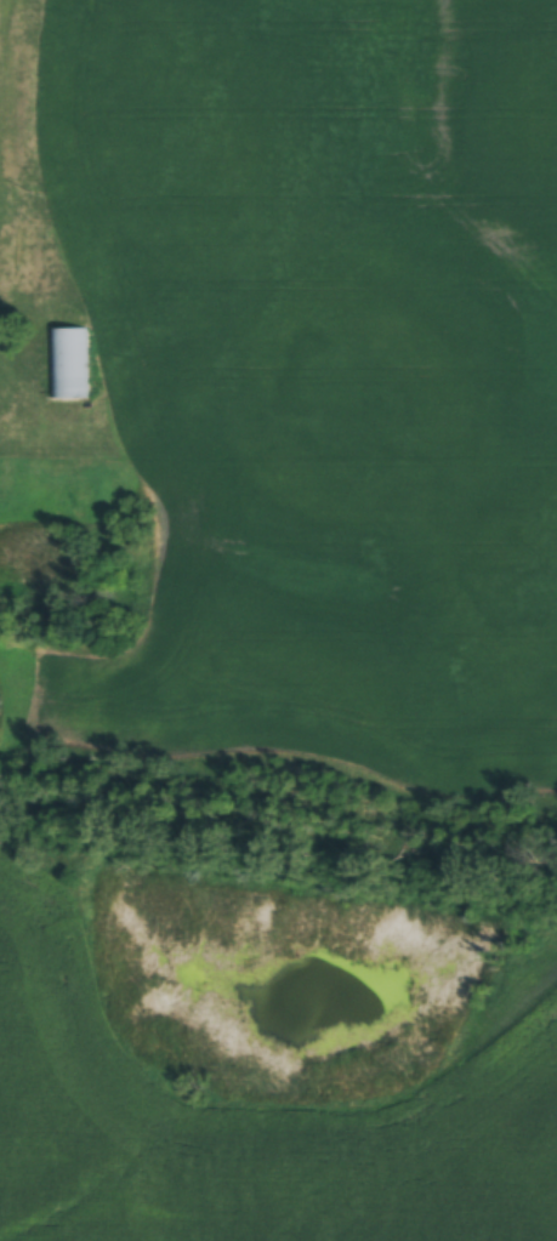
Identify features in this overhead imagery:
building: (69, 365)

